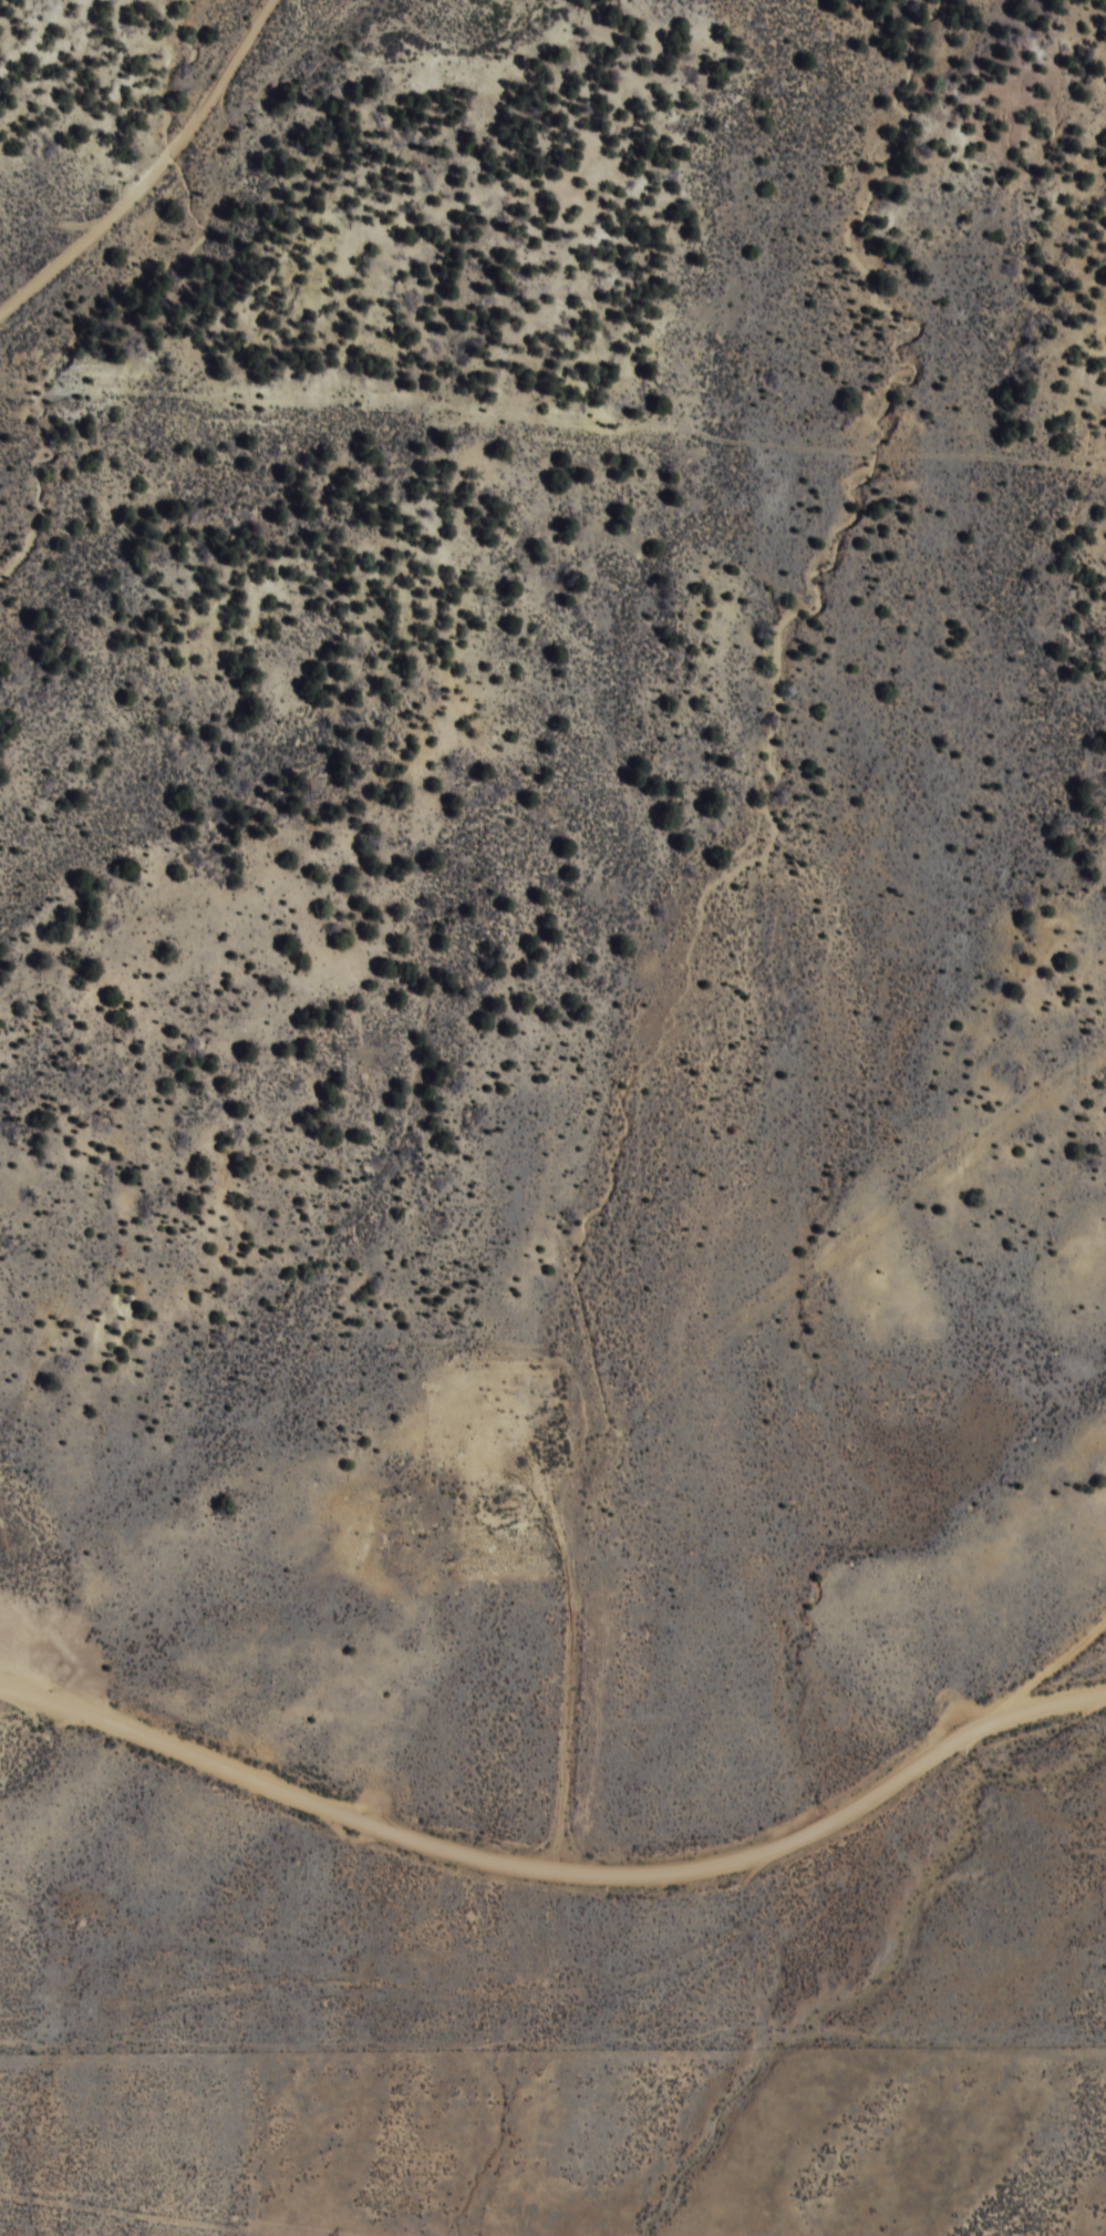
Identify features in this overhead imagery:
road: (557, 1857)

